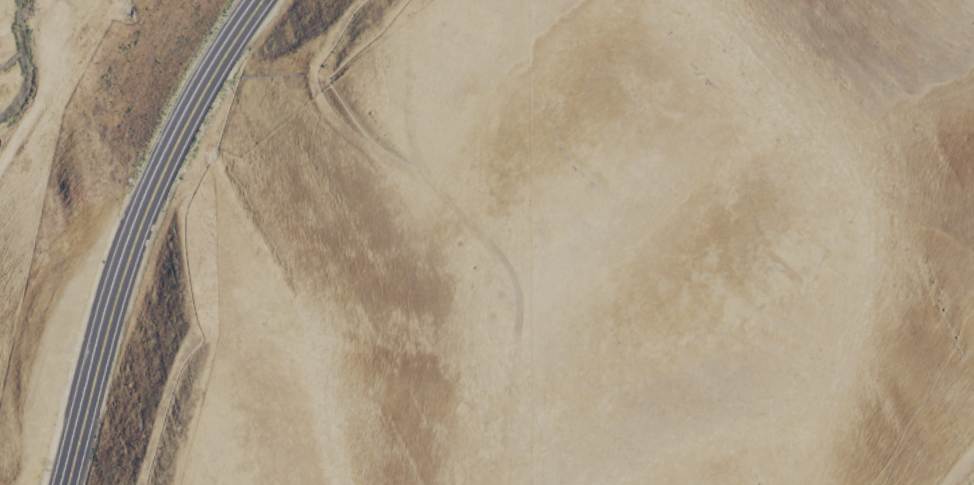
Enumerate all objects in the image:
road: (136, 230)

